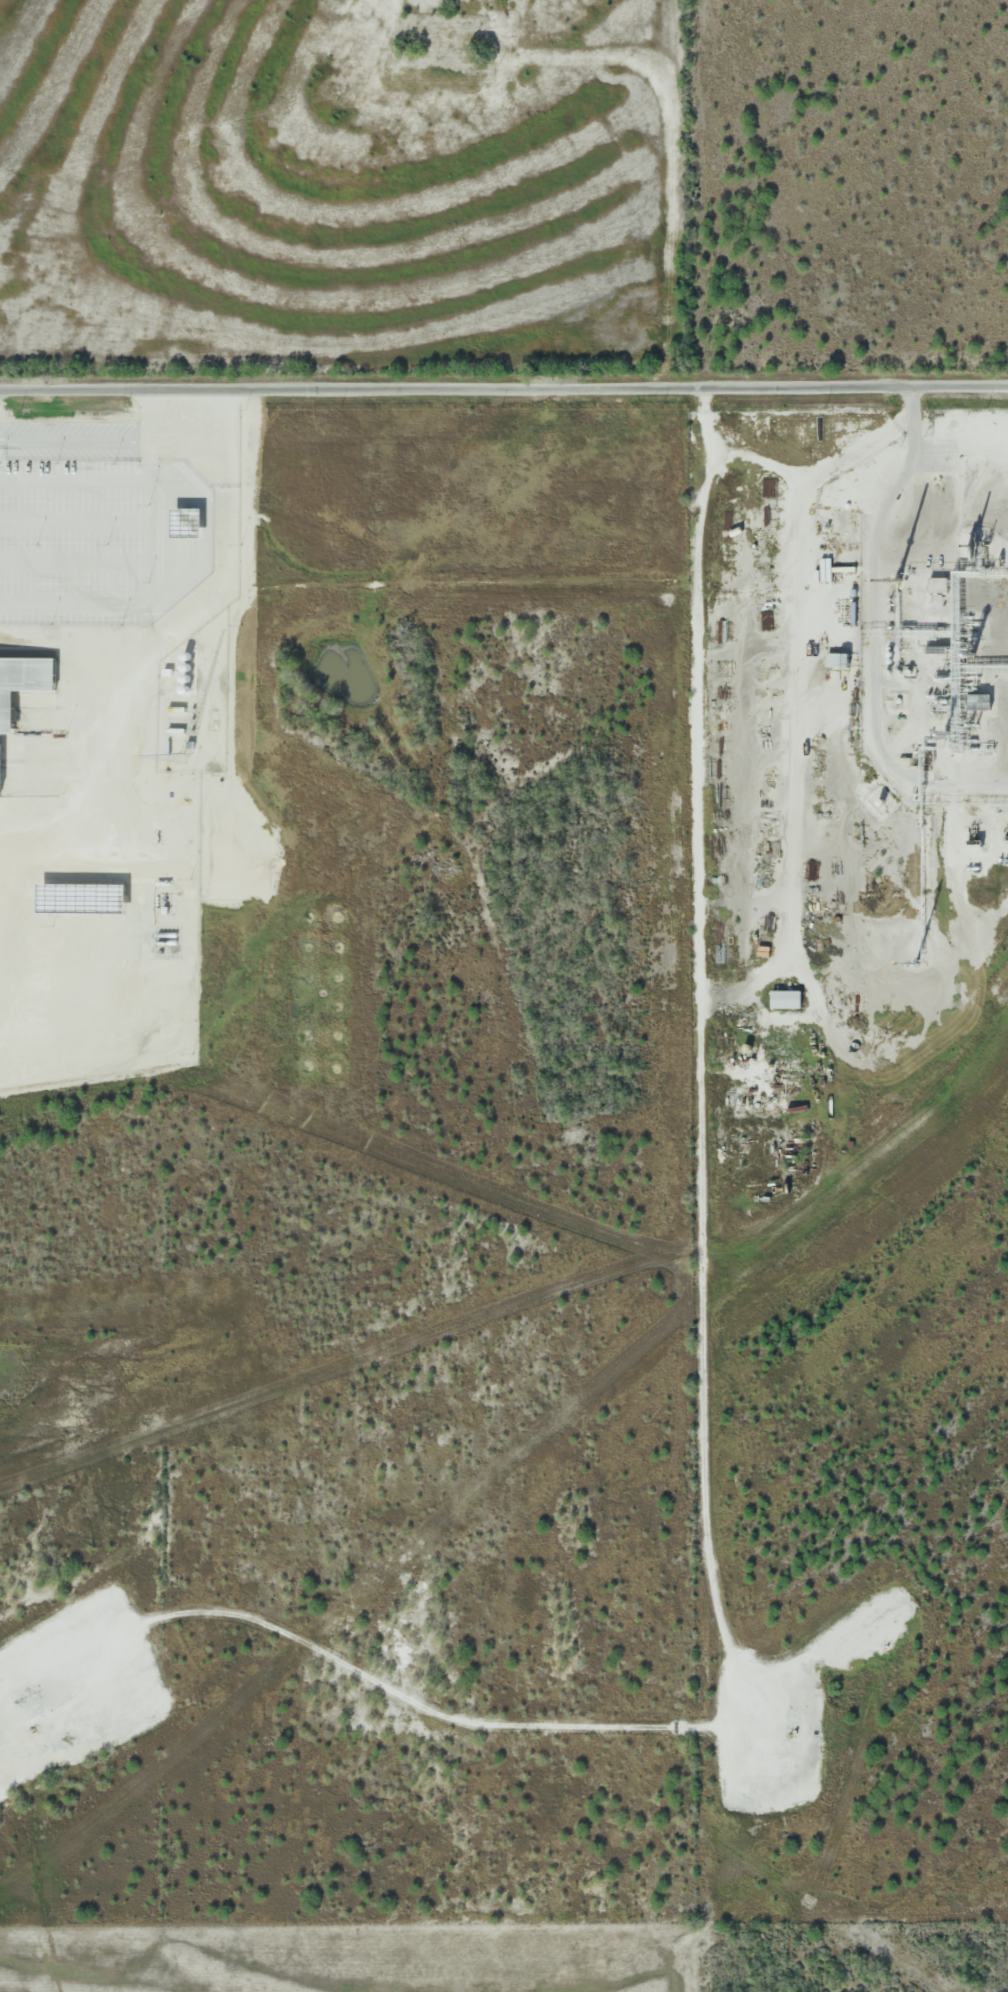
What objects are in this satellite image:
road: (504, 392)
building: (963, 421)
building: (1006, 424)
building: (983, 445)
building: (1001, 466)
building: (937, 585)
building: (836, 661)
building: (25, 677)
building: (979, 702)
building: (785, 999)
road: (700, 1359)

